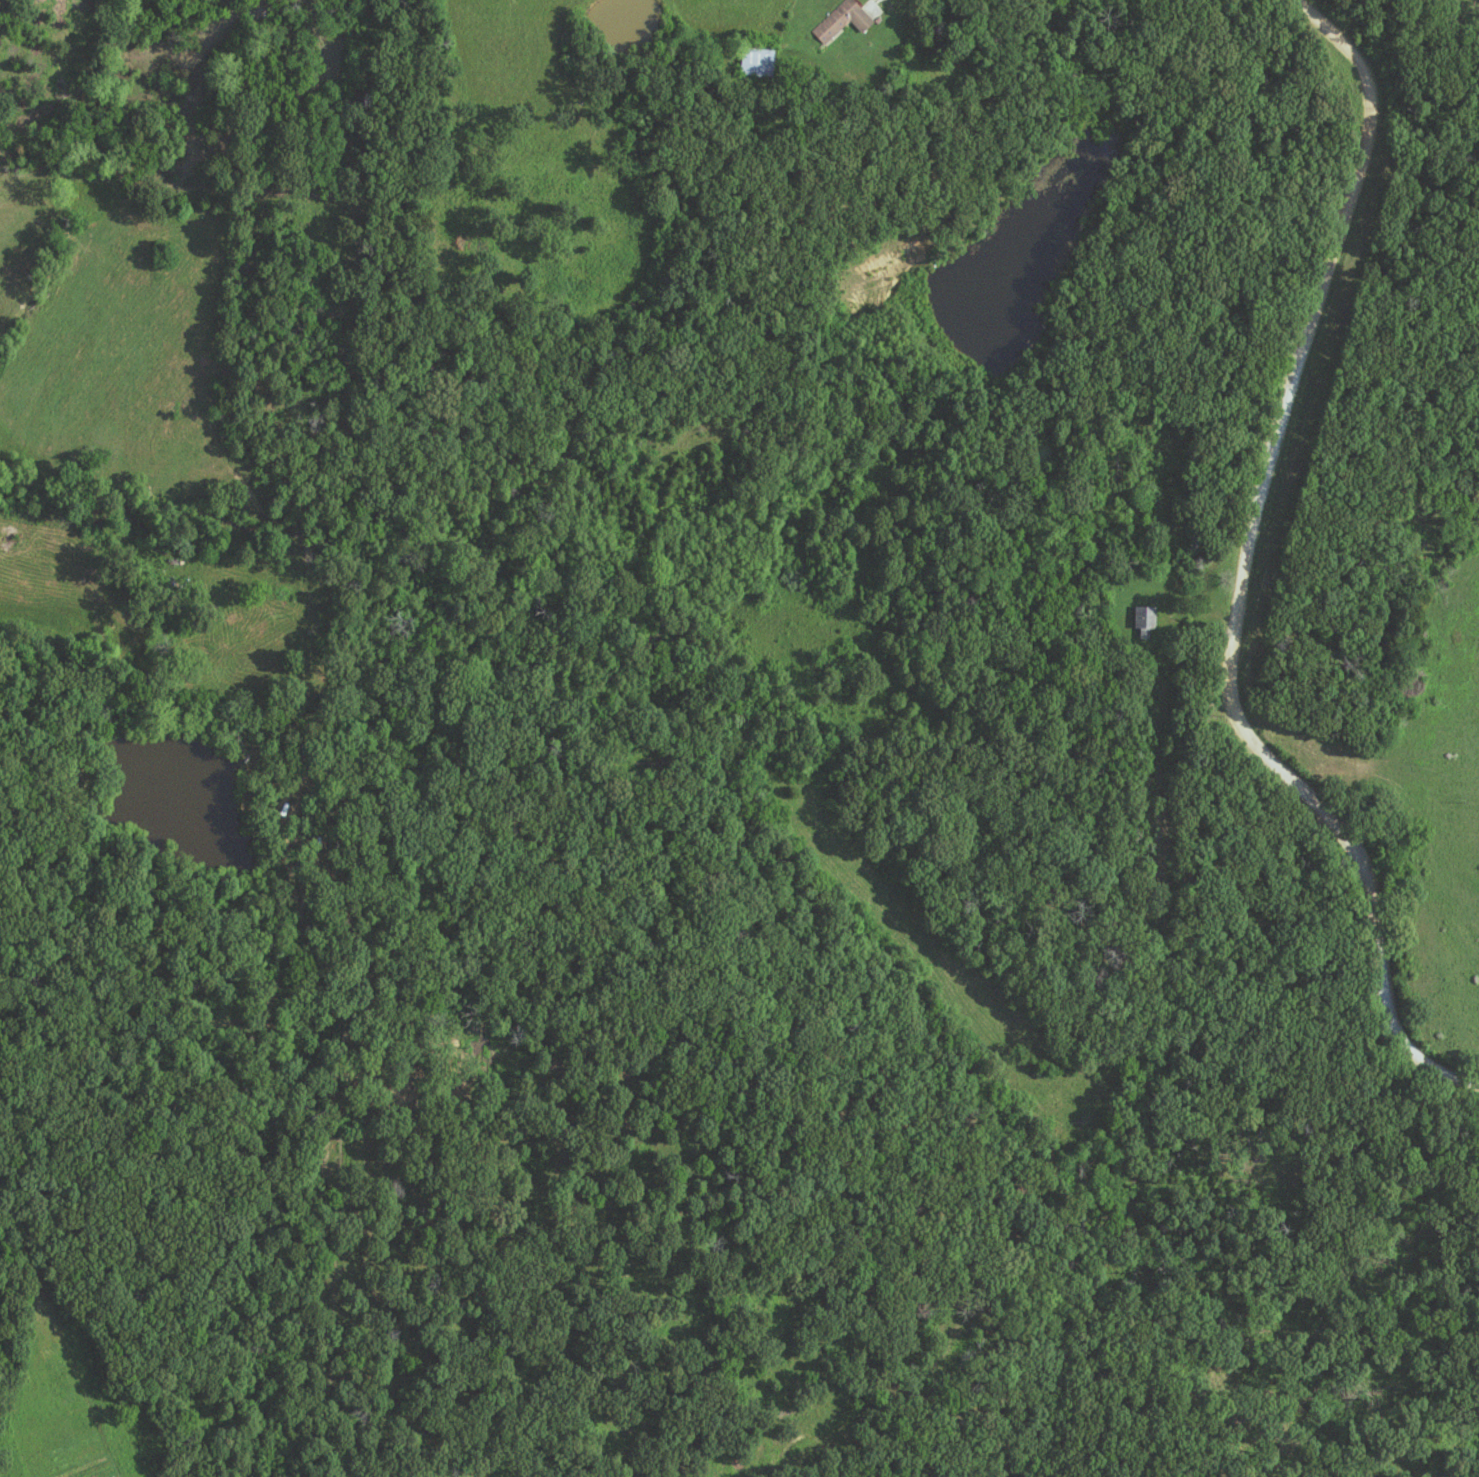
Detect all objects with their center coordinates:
building: (841, 20)
building: (755, 62)
road: (1253, 568)
building: (1144, 620)
road: (1191, 648)

